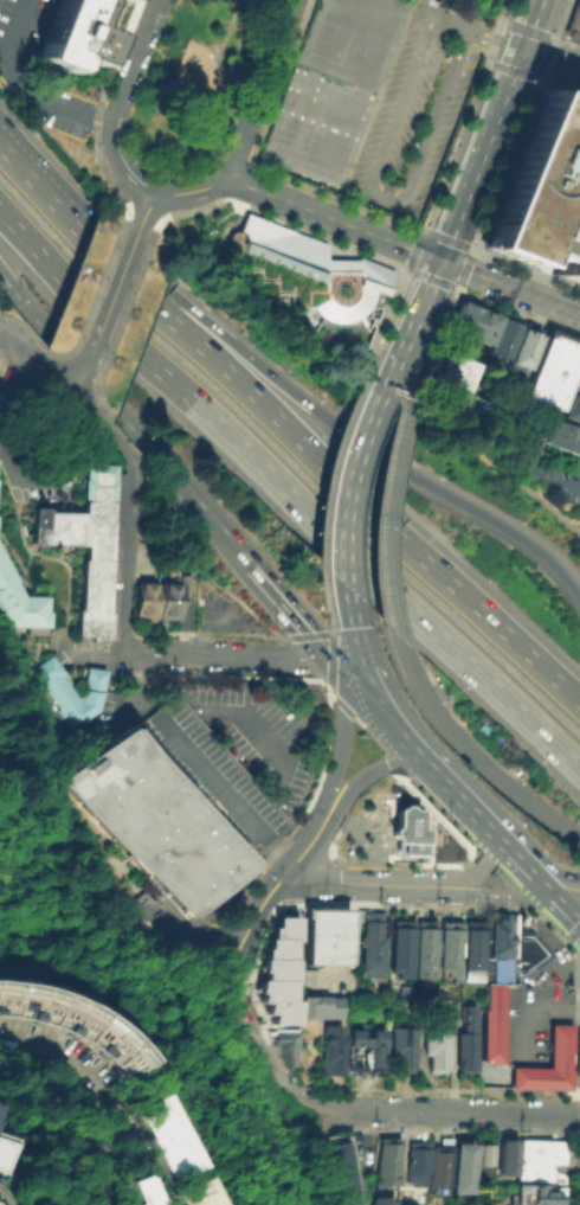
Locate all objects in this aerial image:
building: (123, 0)
road: (453, 1)
road: (472, 8)
road: (502, 9)
building: (573, 17)
road: (230, 25)
road: (514, 25)
building: (72, 34)
road: (492, 40)
traffic signals: (522, 51)
road: (550, 62)
park: (191, 85)
road: (25, 86)
park: (334, 88)
road: (258, 89)
road: (117, 104)
road: (95, 109)
parking lot: (415, 109)
road: (491, 130)
road: (504, 164)
road: (369, 187)
road: (189, 190)
building: (540, 191)
road: (236, 199)
road: (127, 205)
road: (144, 209)
road: (144, 212)
road: (162, 214)
road: (281, 219)
road: (333, 219)
road: (156, 222)
road: (445, 237)
road: (411, 248)
traffic signals: (443, 261)
road: (401, 265)
road: (464, 268)
road: (522, 268)
building: (307, 269)
road: (426, 276)
road: (458, 286)
road: (453, 287)
road: (510, 287)
road: (426, 295)
road: (94, 299)
road: (111, 301)
road: (518, 310)
road: (116, 322)
road: (380, 323)
building: (471, 323)
road: (24, 327)
building: (501, 336)
building: (522, 347)
road: (2, 359)
road: (37, 359)
building: (579, 361)
road: (395, 364)
building: (550, 368)
road: (417, 373)
building: (575, 380)
road: (281, 382)
building: (459, 383)
road: (13, 384)
road: (77, 385)
road: (39, 391)
building: (572, 408)
road: (92, 412)
road: (120, 414)
road: (98, 425)
road: (286, 427)
building: (560, 435)
road: (456, 436)
building: (517, 441)
road: (359, 454)
road: (329, 468)
road: (4, 476)
road: (17, 477)
road: (568, 485)
road: (288, 489)
road: (386, 526)
building: (84, 543)
road: (344, 549)
road: (125, 552)
road: (50, 556)
building: (170, 594)
road: (323, 596)
building: (144, 600)
building: (21, 601)
road: (290, 614)
road: (202, 617)
road: (346, 623)
road: (237, 654)
road: (94, 655)
road: (329, 660)
traffic signals: (350, 664)
road: (135, 680)
building: (76, 691)
road: (339, 736)
road: (413, 748)
road: (472, 754)
road: (370, 771)
road: (202, 776)
building: (156, 820)
building: (406, 831)
road: (508, 847)
road: (278, 857)
road: (483, 861)
road: (553, 874)
road: (537, 882)
road: (370, 884)
road: (501, 895)
road: (265, 900)
road: (555, 900)
building: (162, 916)
road: (572, 916)
building: (522, 919)
road: (193, 925)
building: (509, 930)
building: (322, 935)
building: (501, 935)
building: (490, 937)
road: (553, 946)
building: (373, 947)
building: (401, 947)
building: (449, 947)
building: (425, 948)
building: (475, 950)
building: (515, 959)
building: (278, 969)
building: (315, 1005)
road: (529, 1014)
building: (492, 1021)
building: (78, 1032)
building: (469, 1041)
road: (270, 1043)
building: (556, 1043)
building: (405, 1047)
building: (291, 1049)
building: (363, 1049)
building: (331, 1052)
building: (437, 1052)
road: (65, 1068)
building: (1, 1088)
road: (272, 1104)
road: (86, 1107)
building: (1, 1109)
road: (433, 1110)
building: (178, 1137)
building: (8, 1140)
road: (150, 1155)
building: (505, 1155)
building: (483, 1158)
building: (539, 1159)
building: (417, 1162)
building: (440, 1164)
building: (462, 1166)
building: (385, 1169)
building: (346, 1173)
building: (526, 1188)
building: (541, 1192)
building: (153, 1194)
building: (558, 1194)
building: (210, 1196)
building: (542, 1198)
road: (5, 1199)

